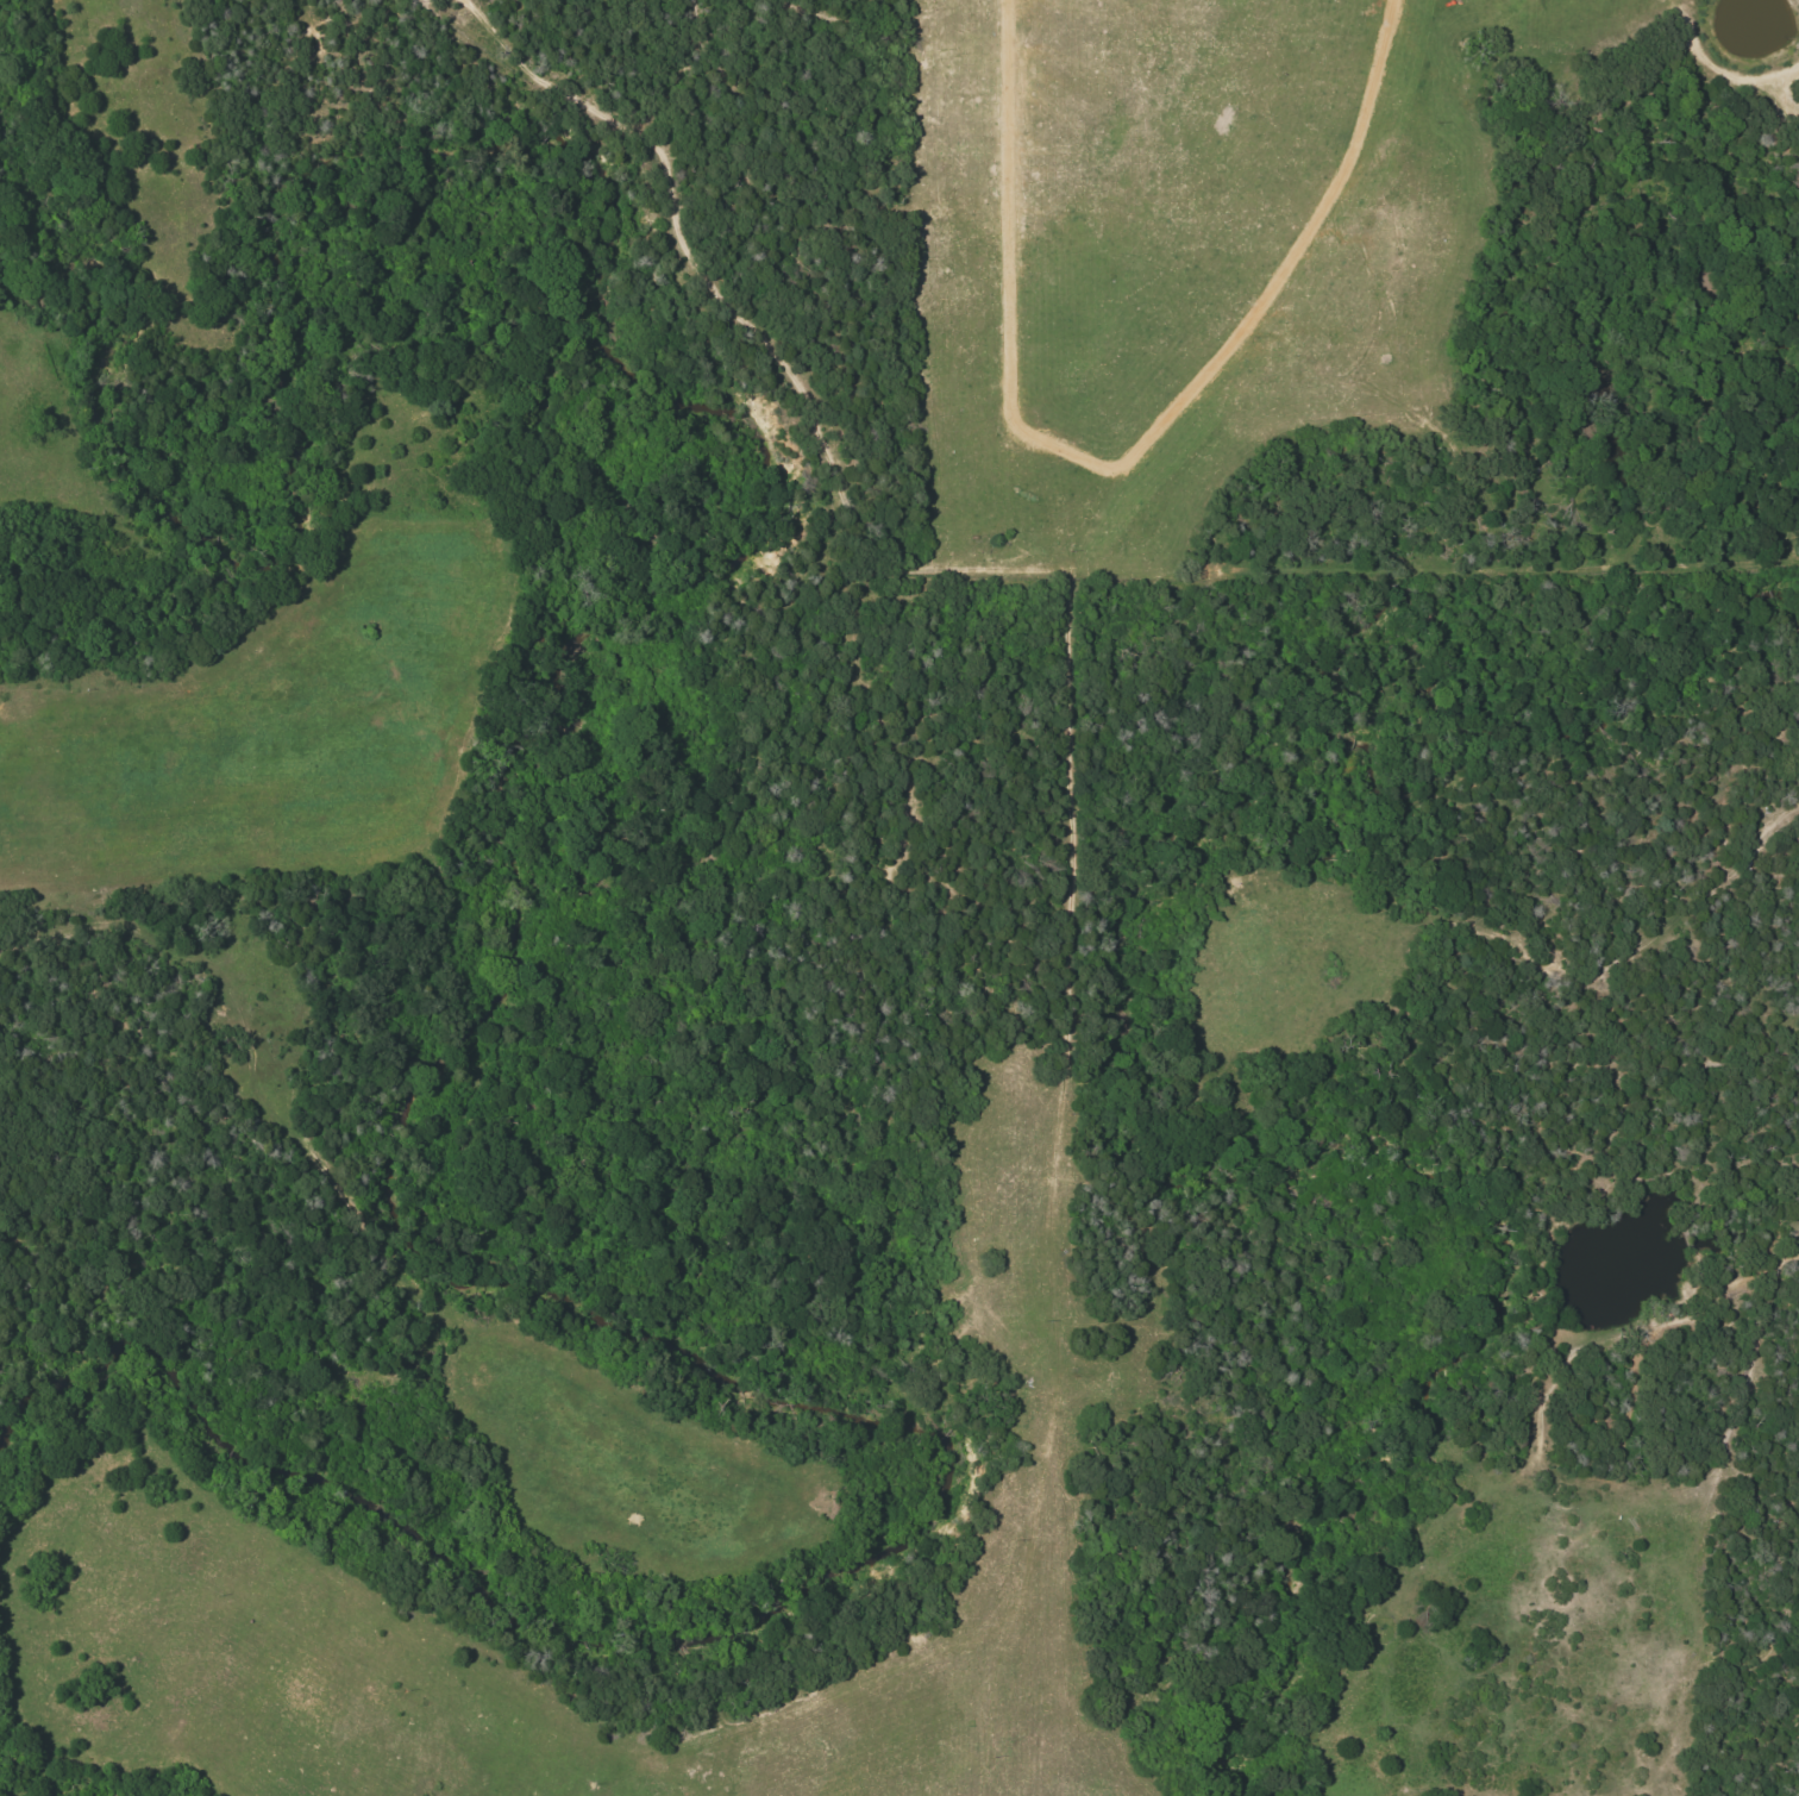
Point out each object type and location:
road: (1072, 745)

